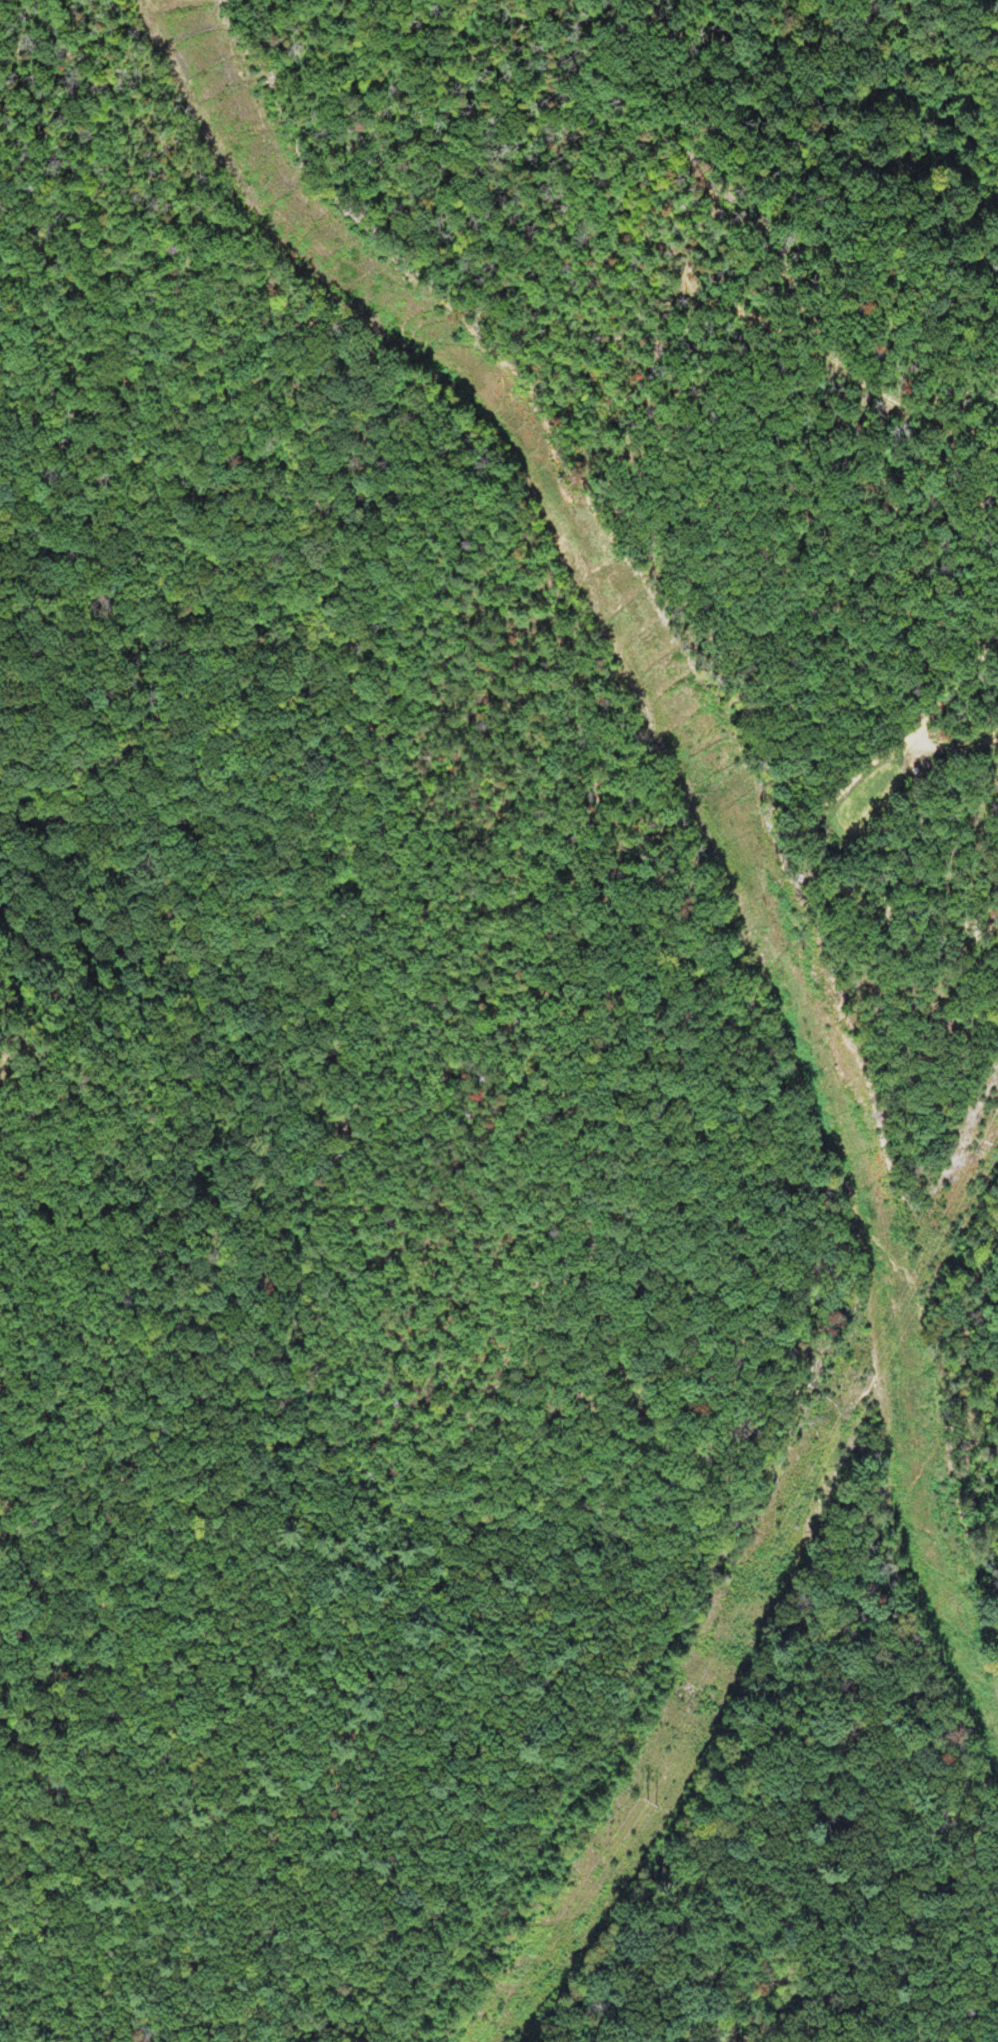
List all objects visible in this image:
power tower: (644, 1804)

